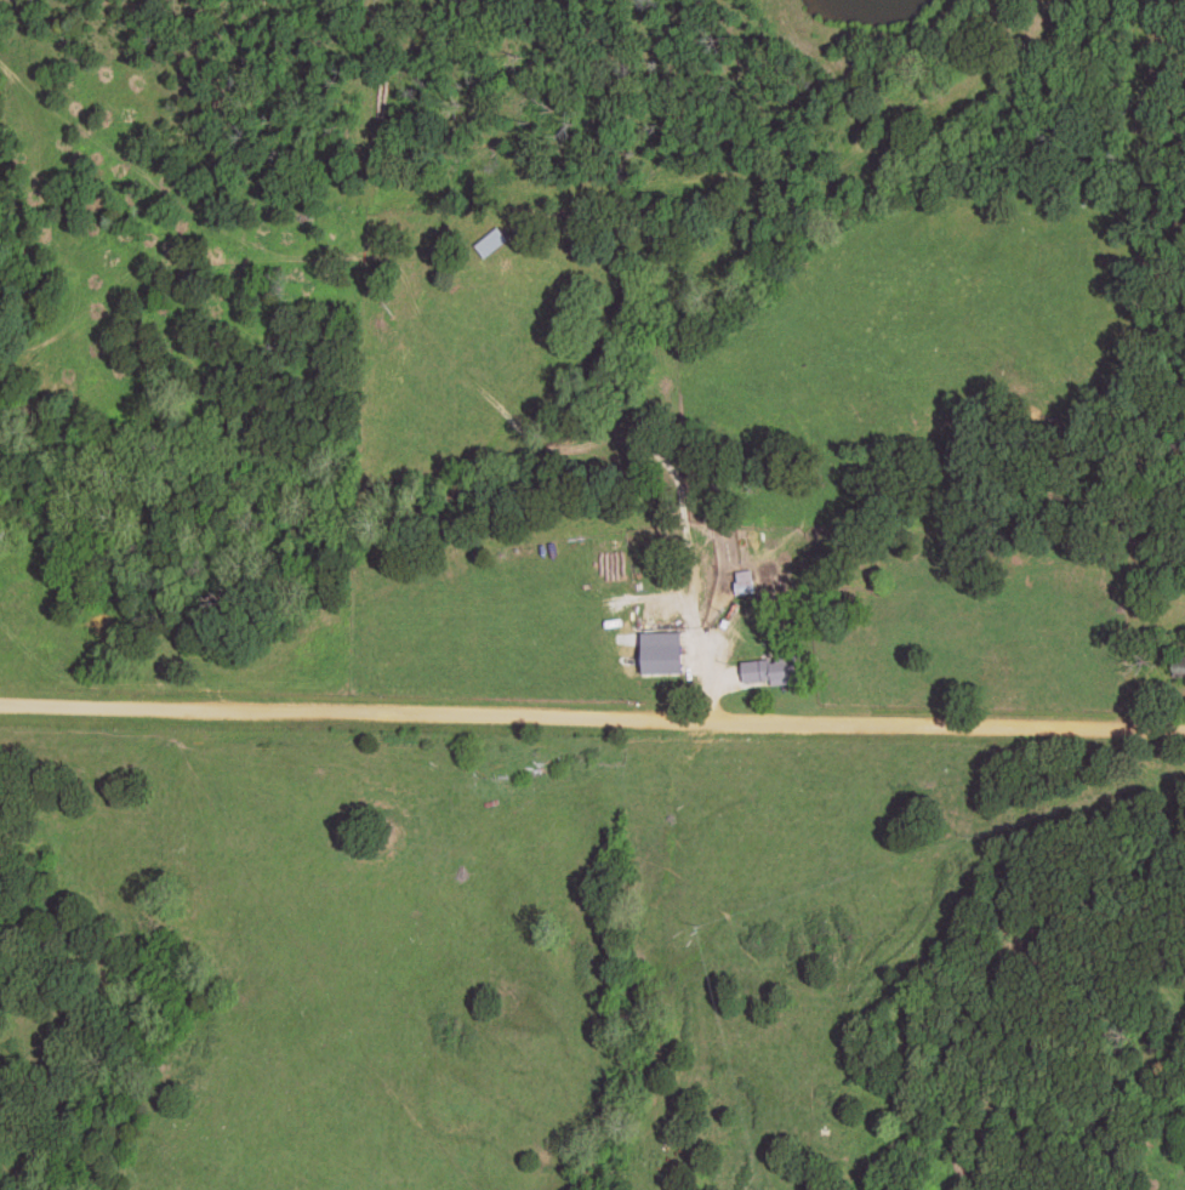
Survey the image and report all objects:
building: (746, 581)
road: (694, 598)
building: (693, 653)
building: (1178, 666)
building: (768, 671)
road: (592, 723)

